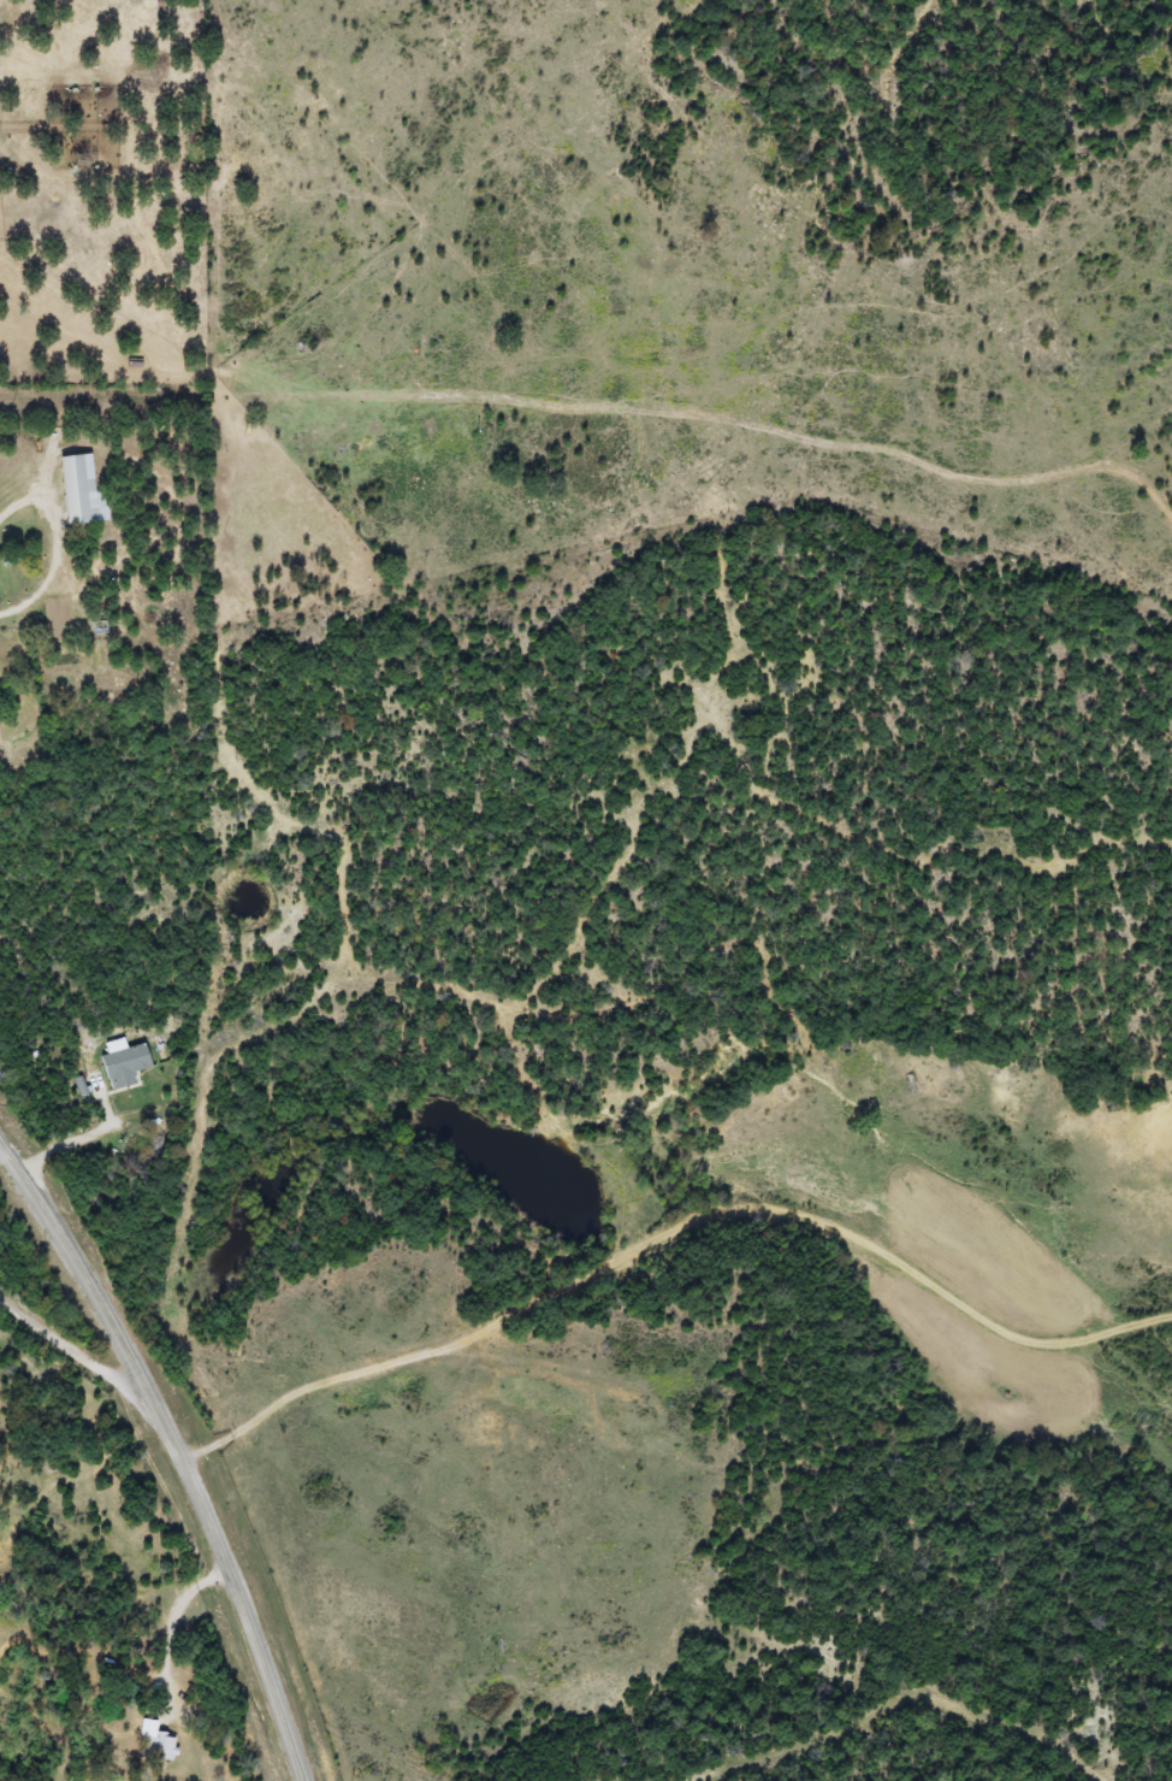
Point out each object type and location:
road: (301, 418)
building: (81, 491)
road: (57, 547)
building: (125, 1066)
road: (673, 1226)
road: (81, 1350)
road: (184, 1447)
road: (176, 1621)
road: (896, 1697)
building: (159, 1748)

